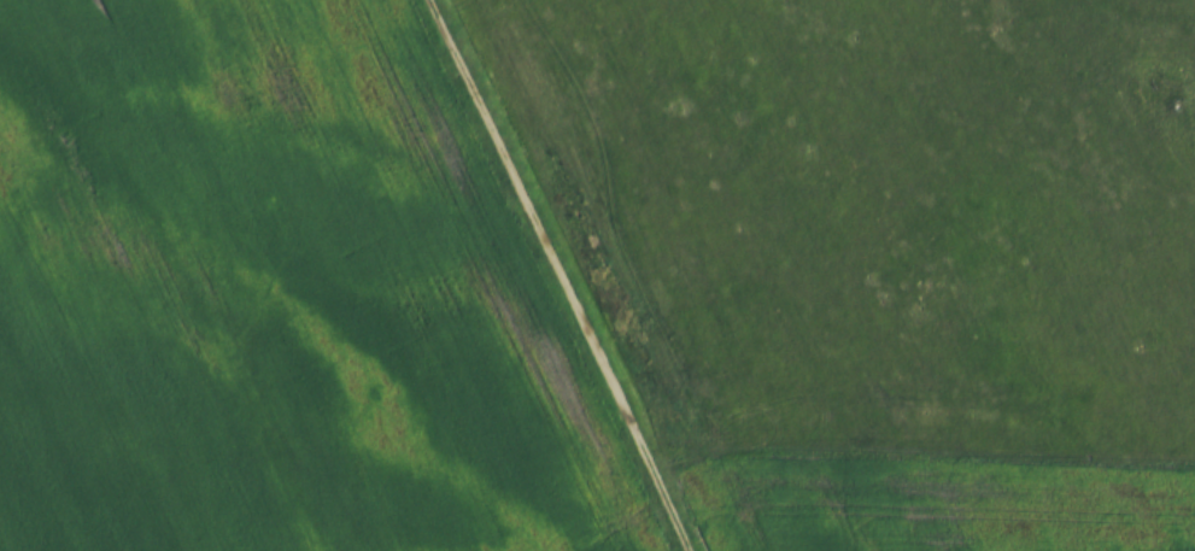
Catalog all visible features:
road: (560, 275)

